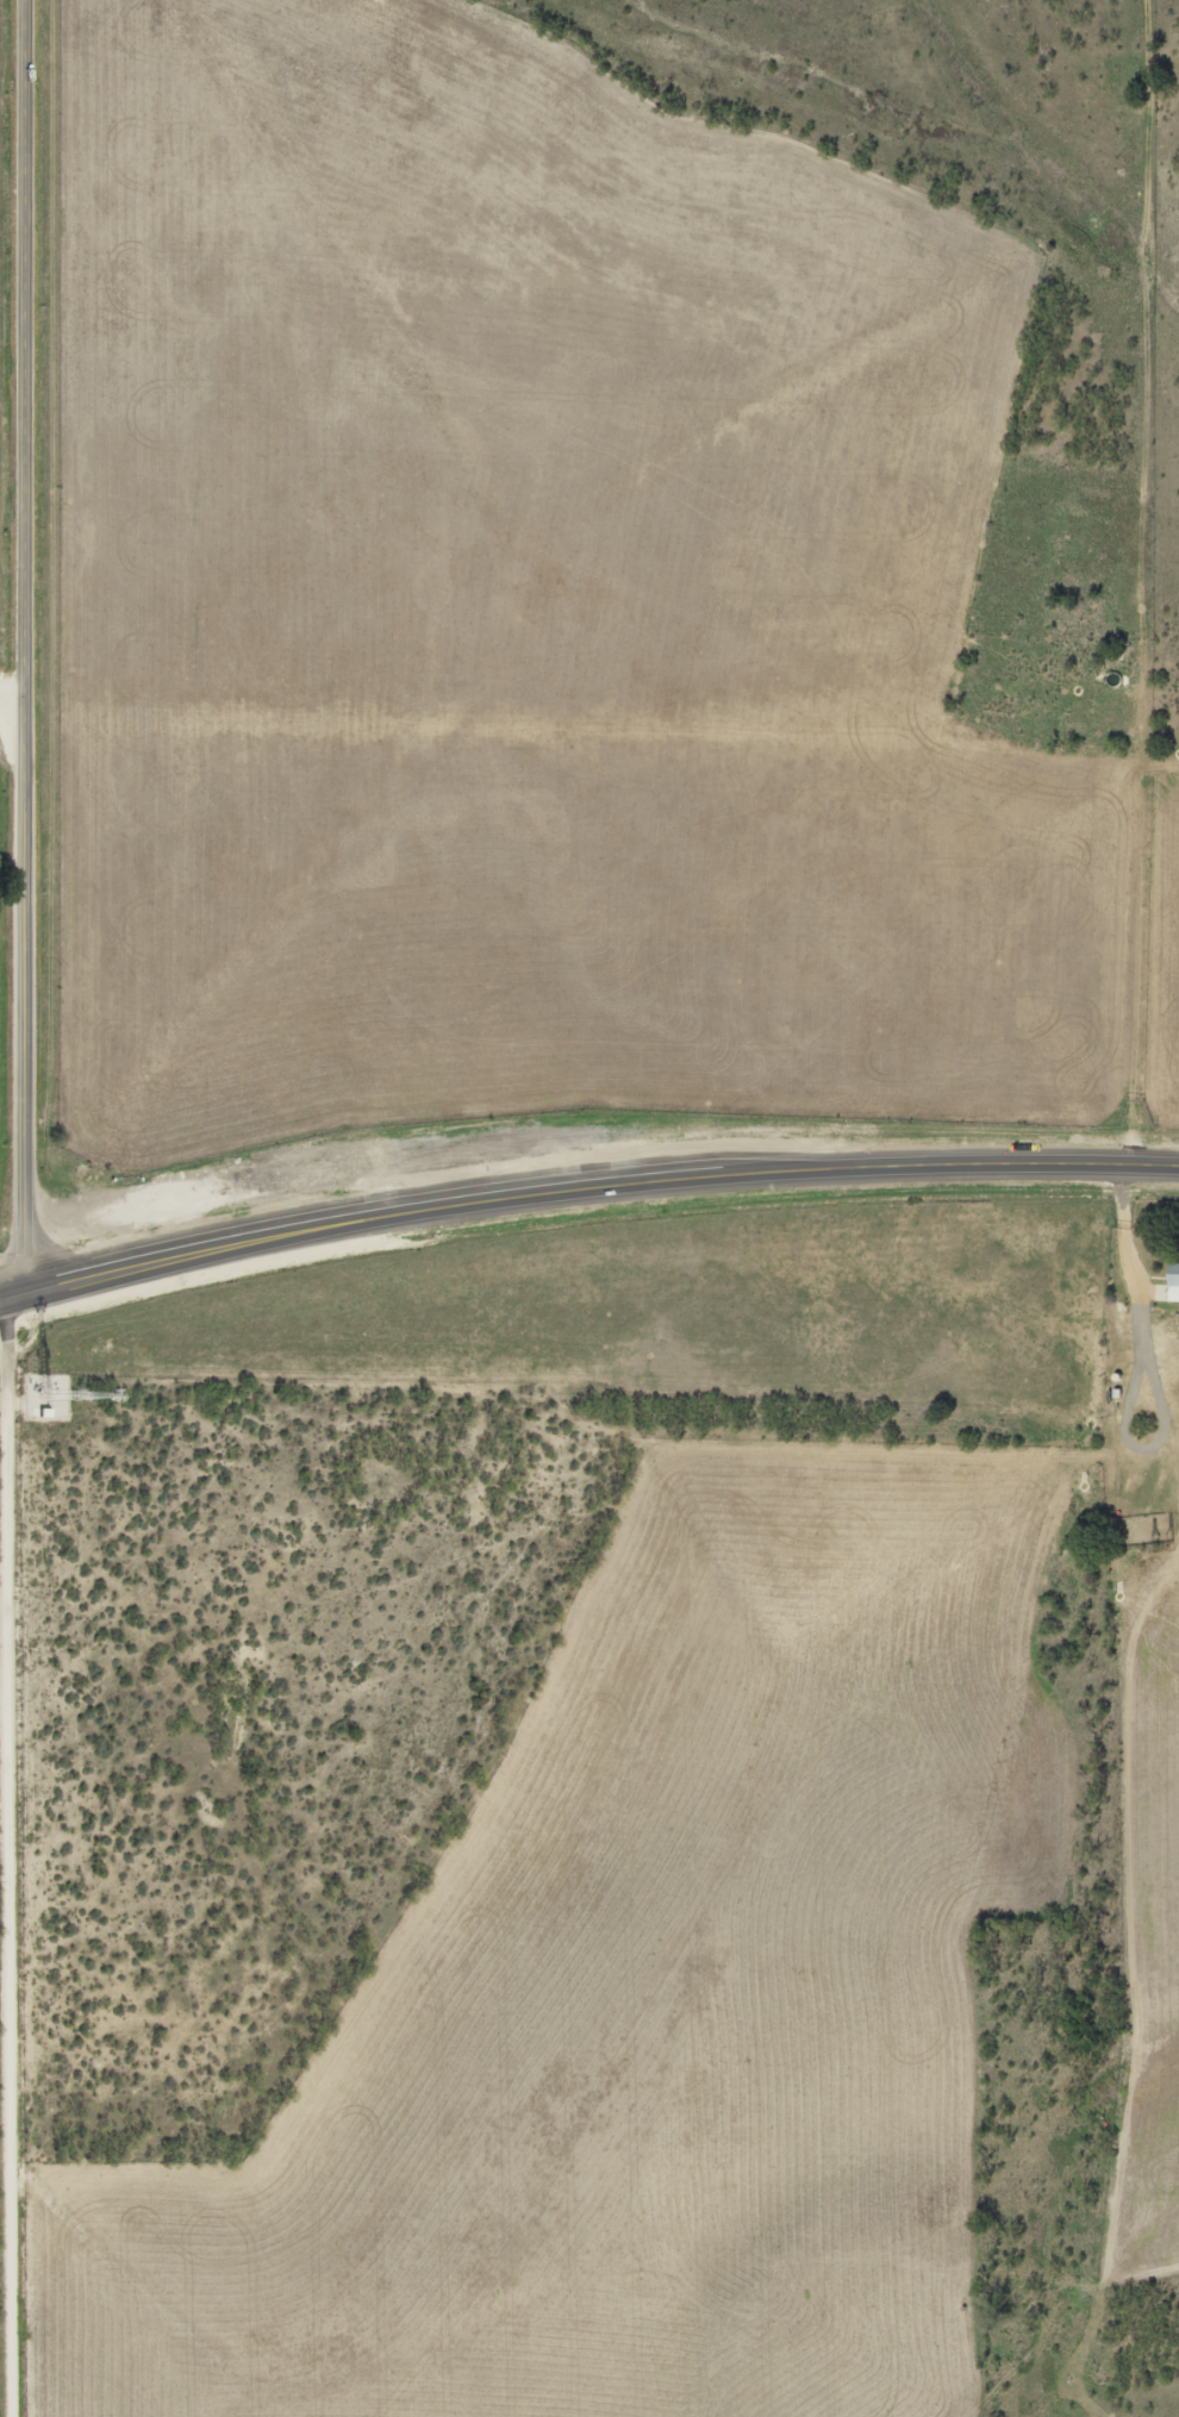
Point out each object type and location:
road: (27, 644)
road: (13, 691)
road: (584, 1189)
building: (1177, 1281)
road: (23, 1854)

